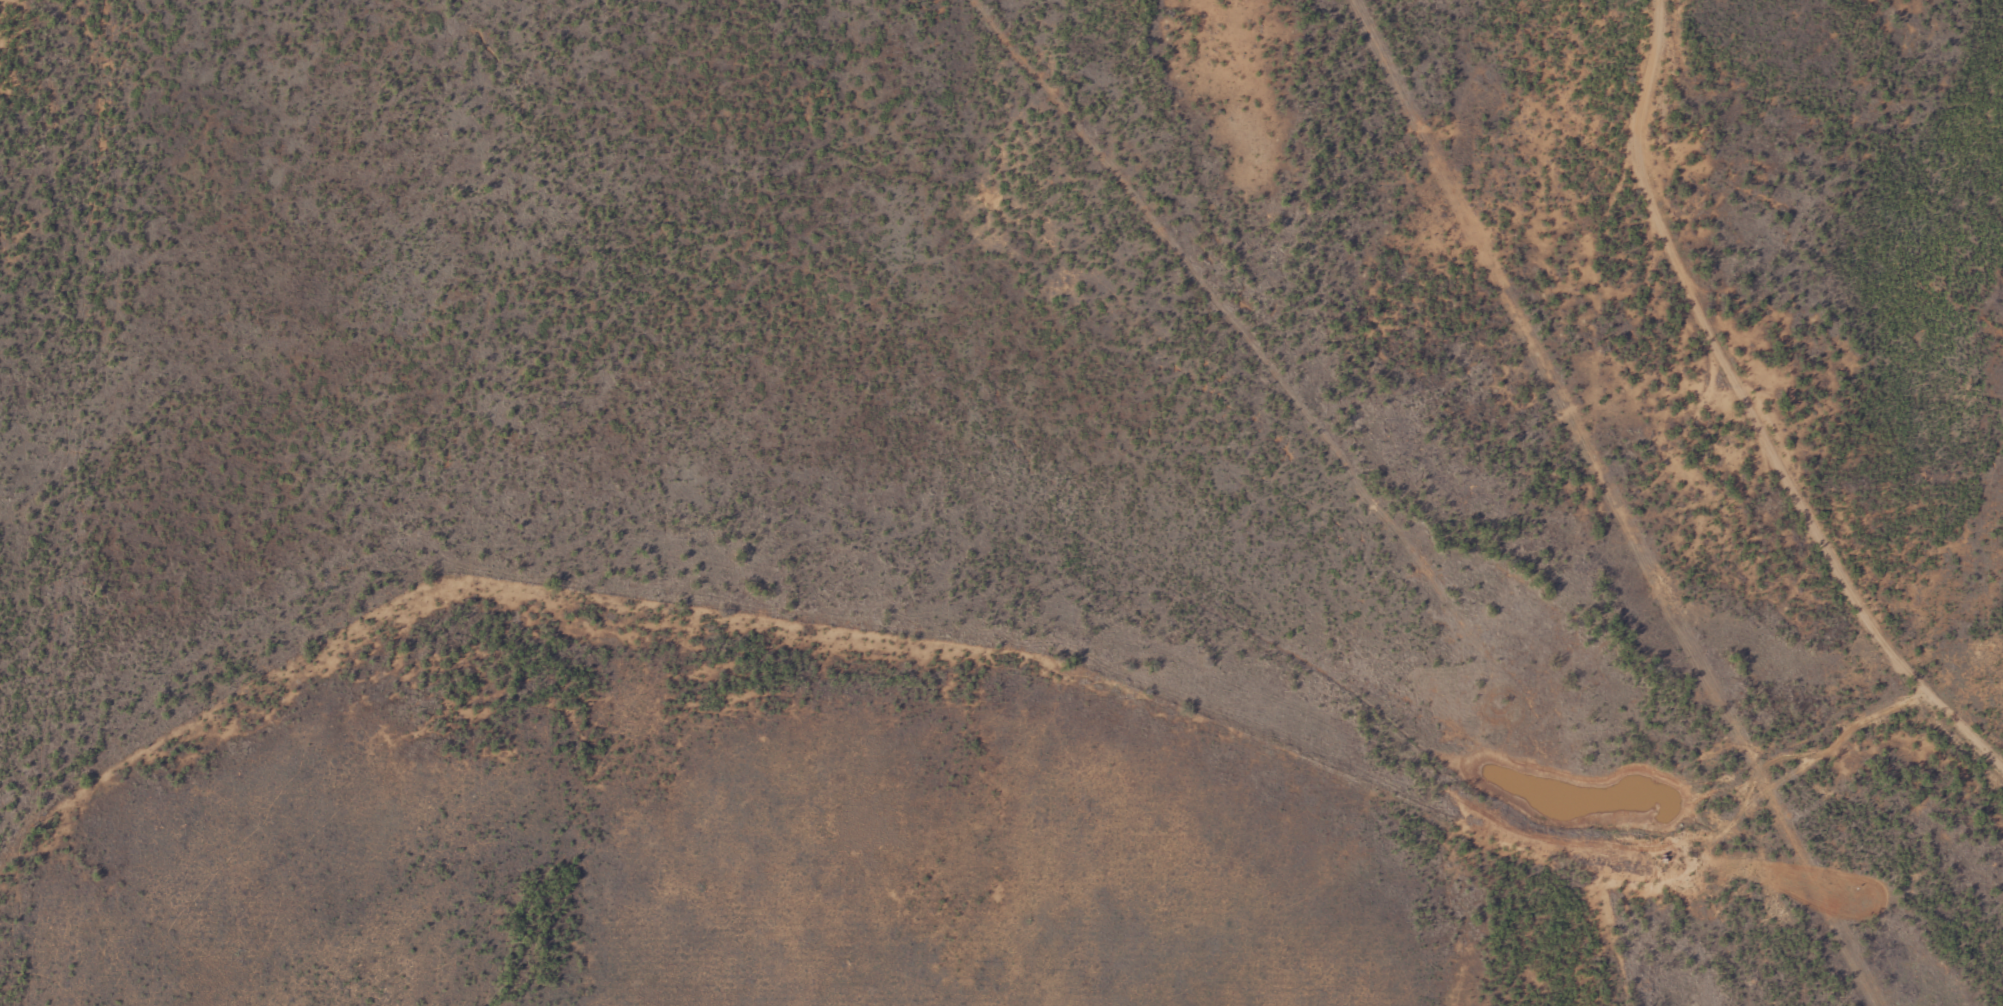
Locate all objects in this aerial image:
road: (1750, 411)
road: (1773, 775)

